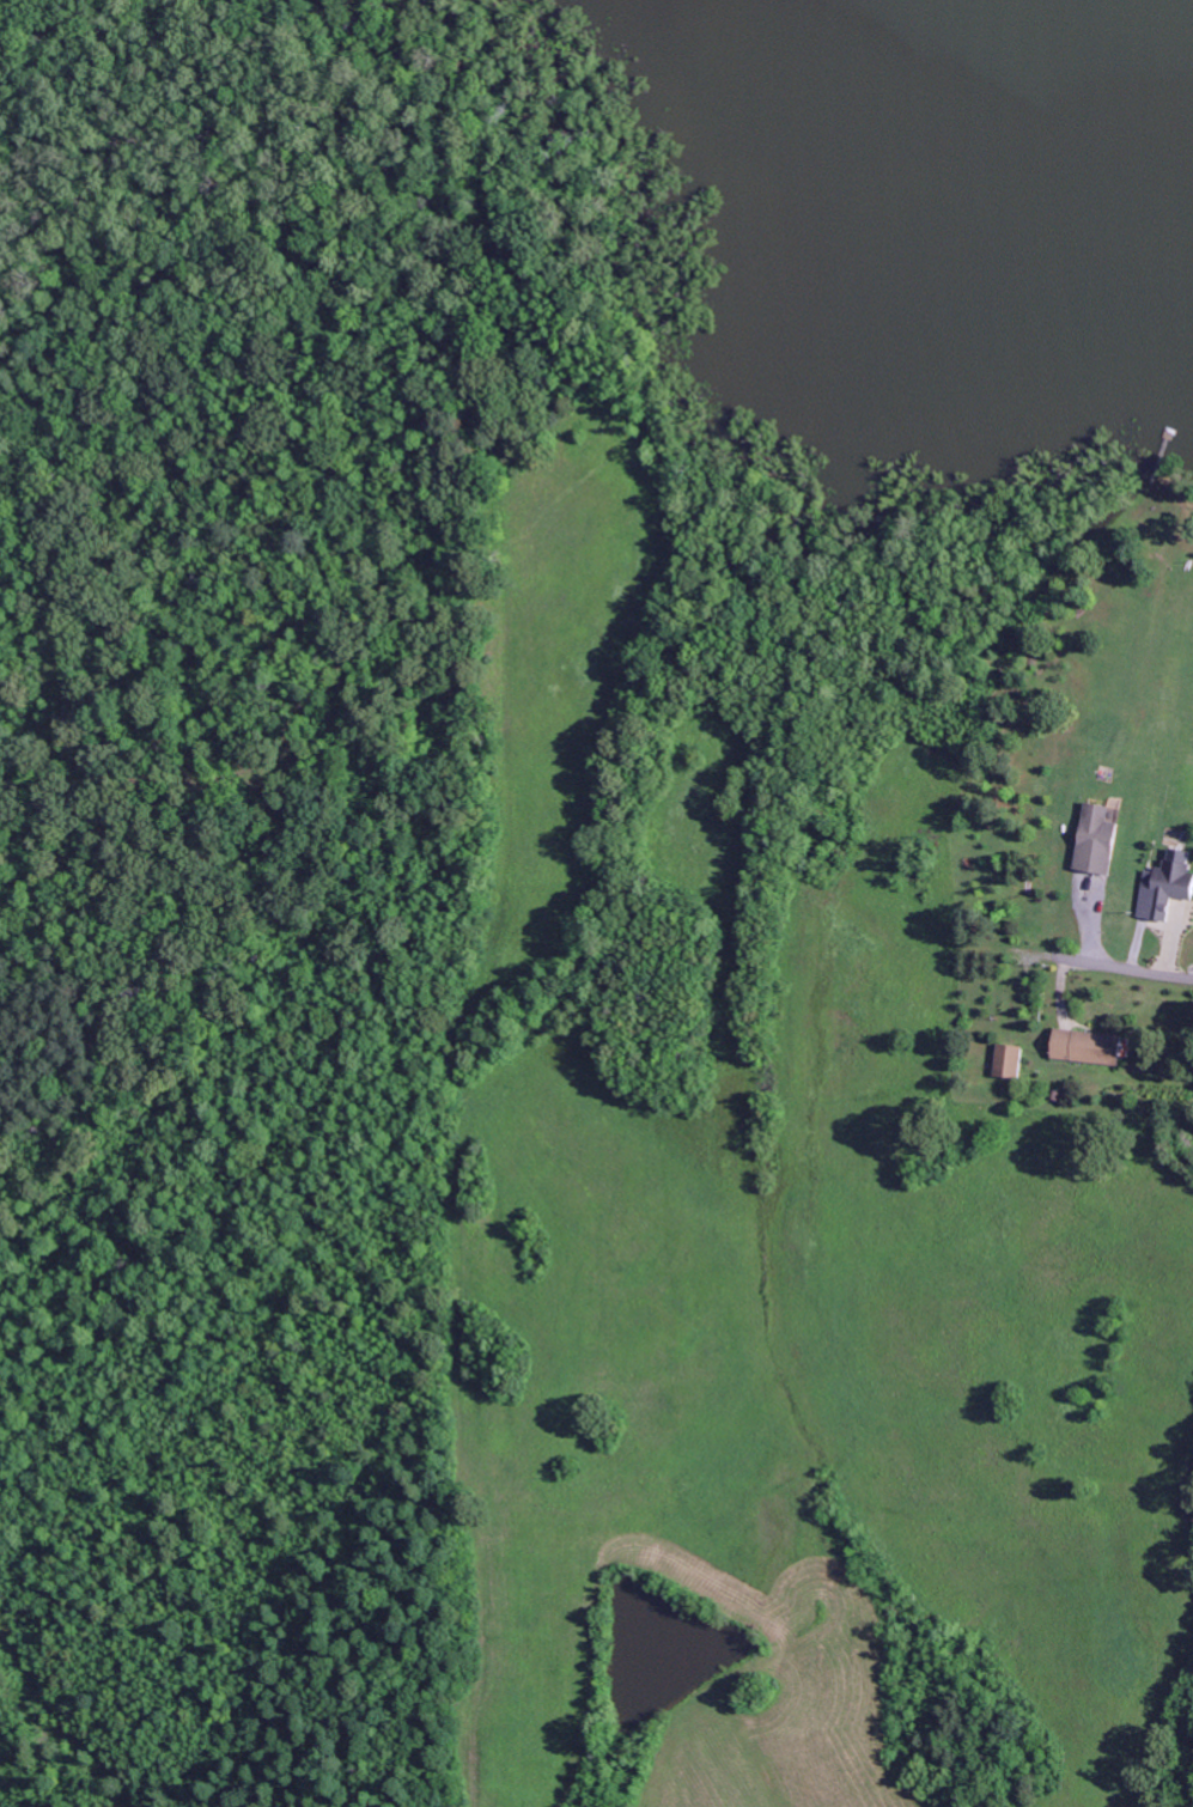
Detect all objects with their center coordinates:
building: (1094, 839)
building: (1163, 884)
road: (1126, 971)
building: (1082, 1046)
building: (1005, 1060)

